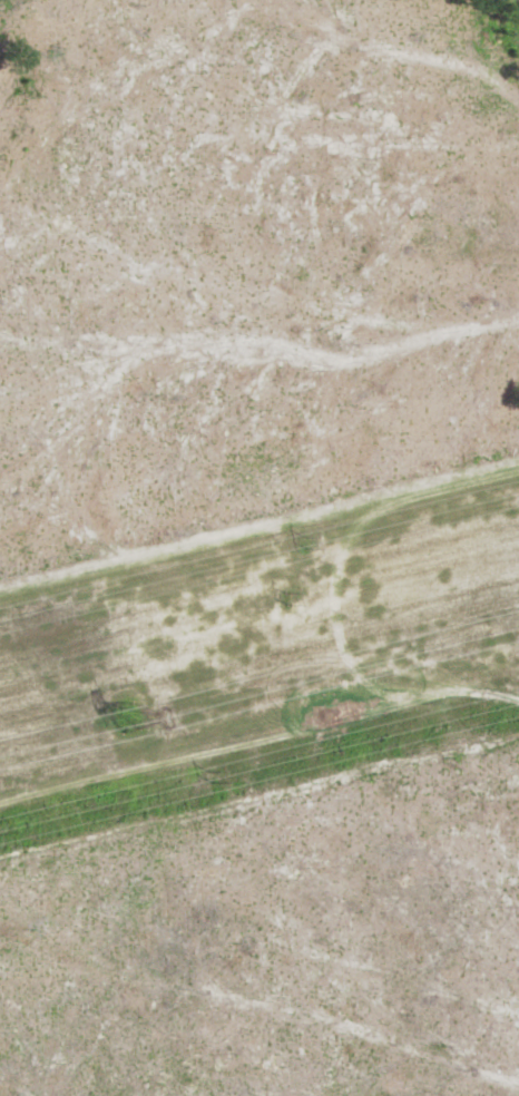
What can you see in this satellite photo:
power tower: (312, 544)
power tower: (296, 598)
power tower: (133, 717)
power tower: (213, 775)

